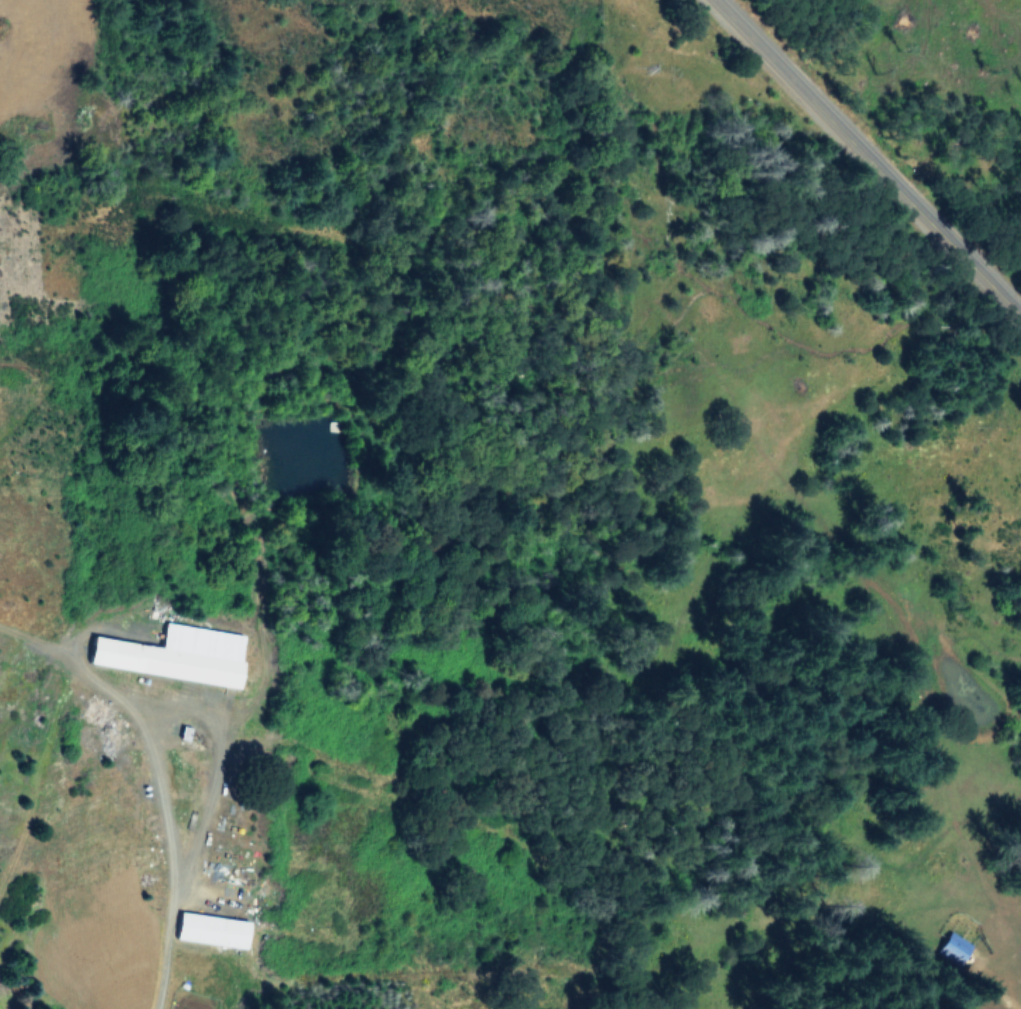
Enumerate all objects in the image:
road: (859, 165)
crop: (41, 617)
building: (176, 654)
road: (195, 855)
building: (211, 930)
building: (953, 948)

